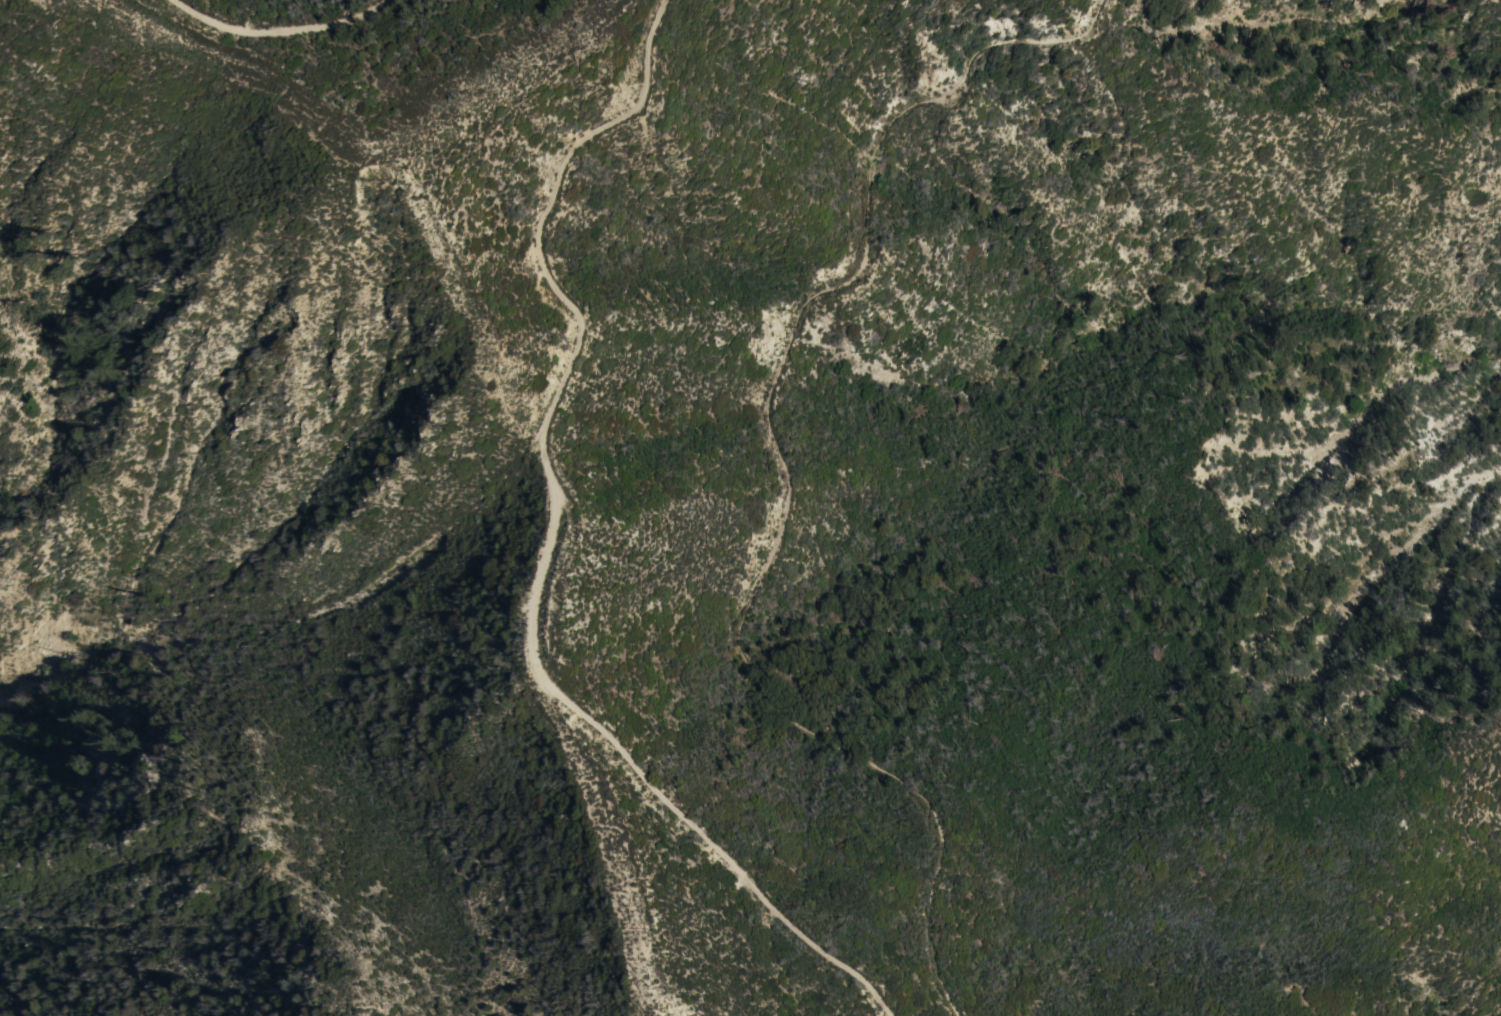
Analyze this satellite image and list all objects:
road: (348, 19)
road: (240, 26)
road: (782, 468)
road: (543, 552)

